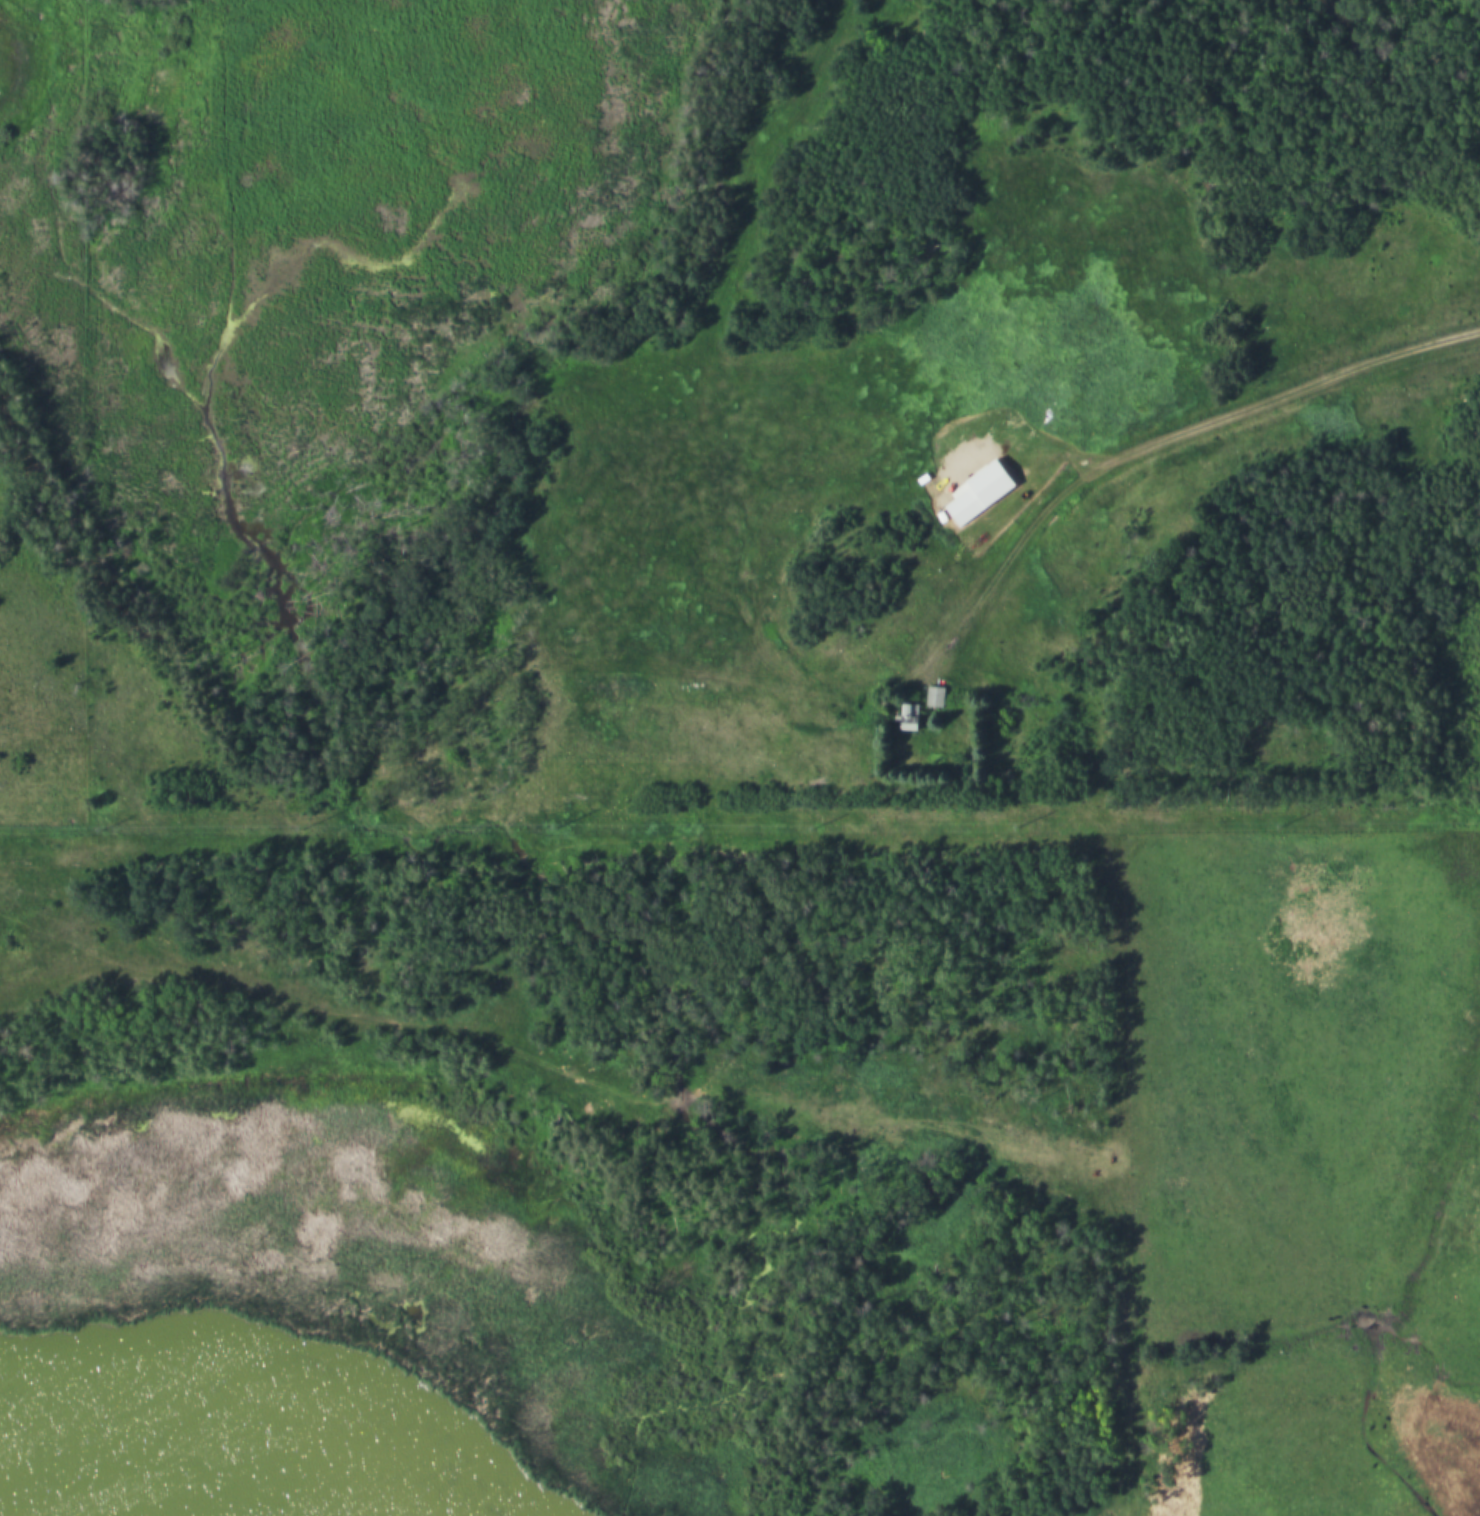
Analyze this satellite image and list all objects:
road: (1156, 442)
building: (937, 696)
building: (912, 717)
road: (554, 1070)
road: (1117, 1179)

